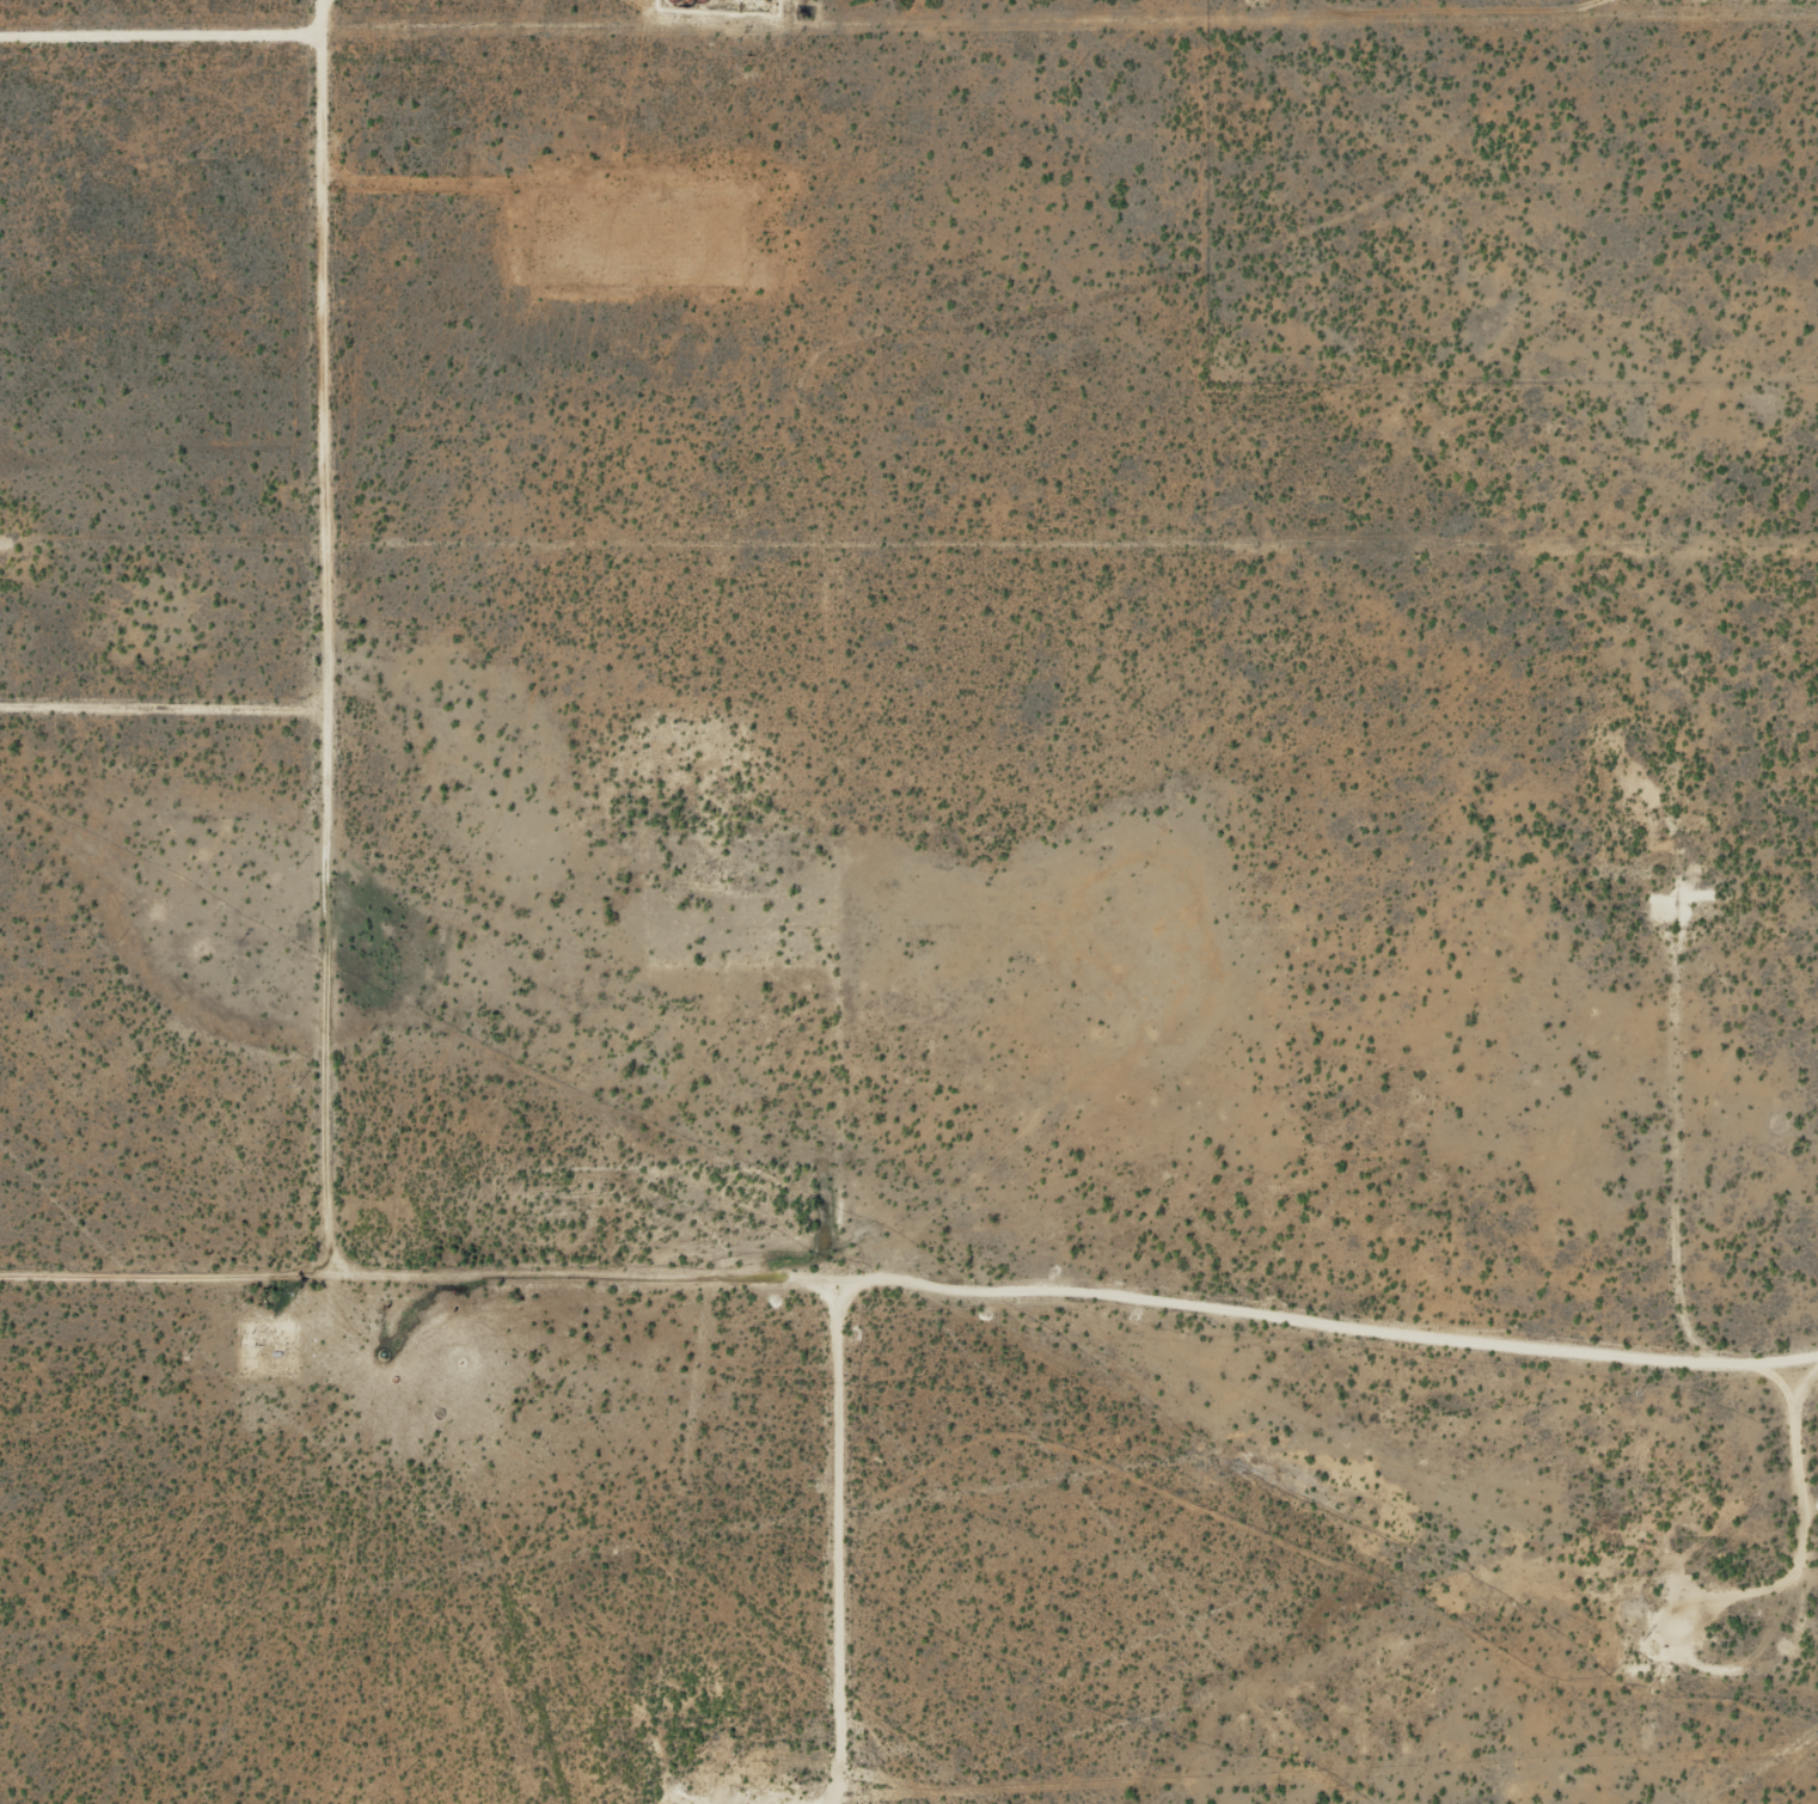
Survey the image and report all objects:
road: (1695, 12)
road: (333, 641)
road: (908, 1302)
road: (850, 1552)

